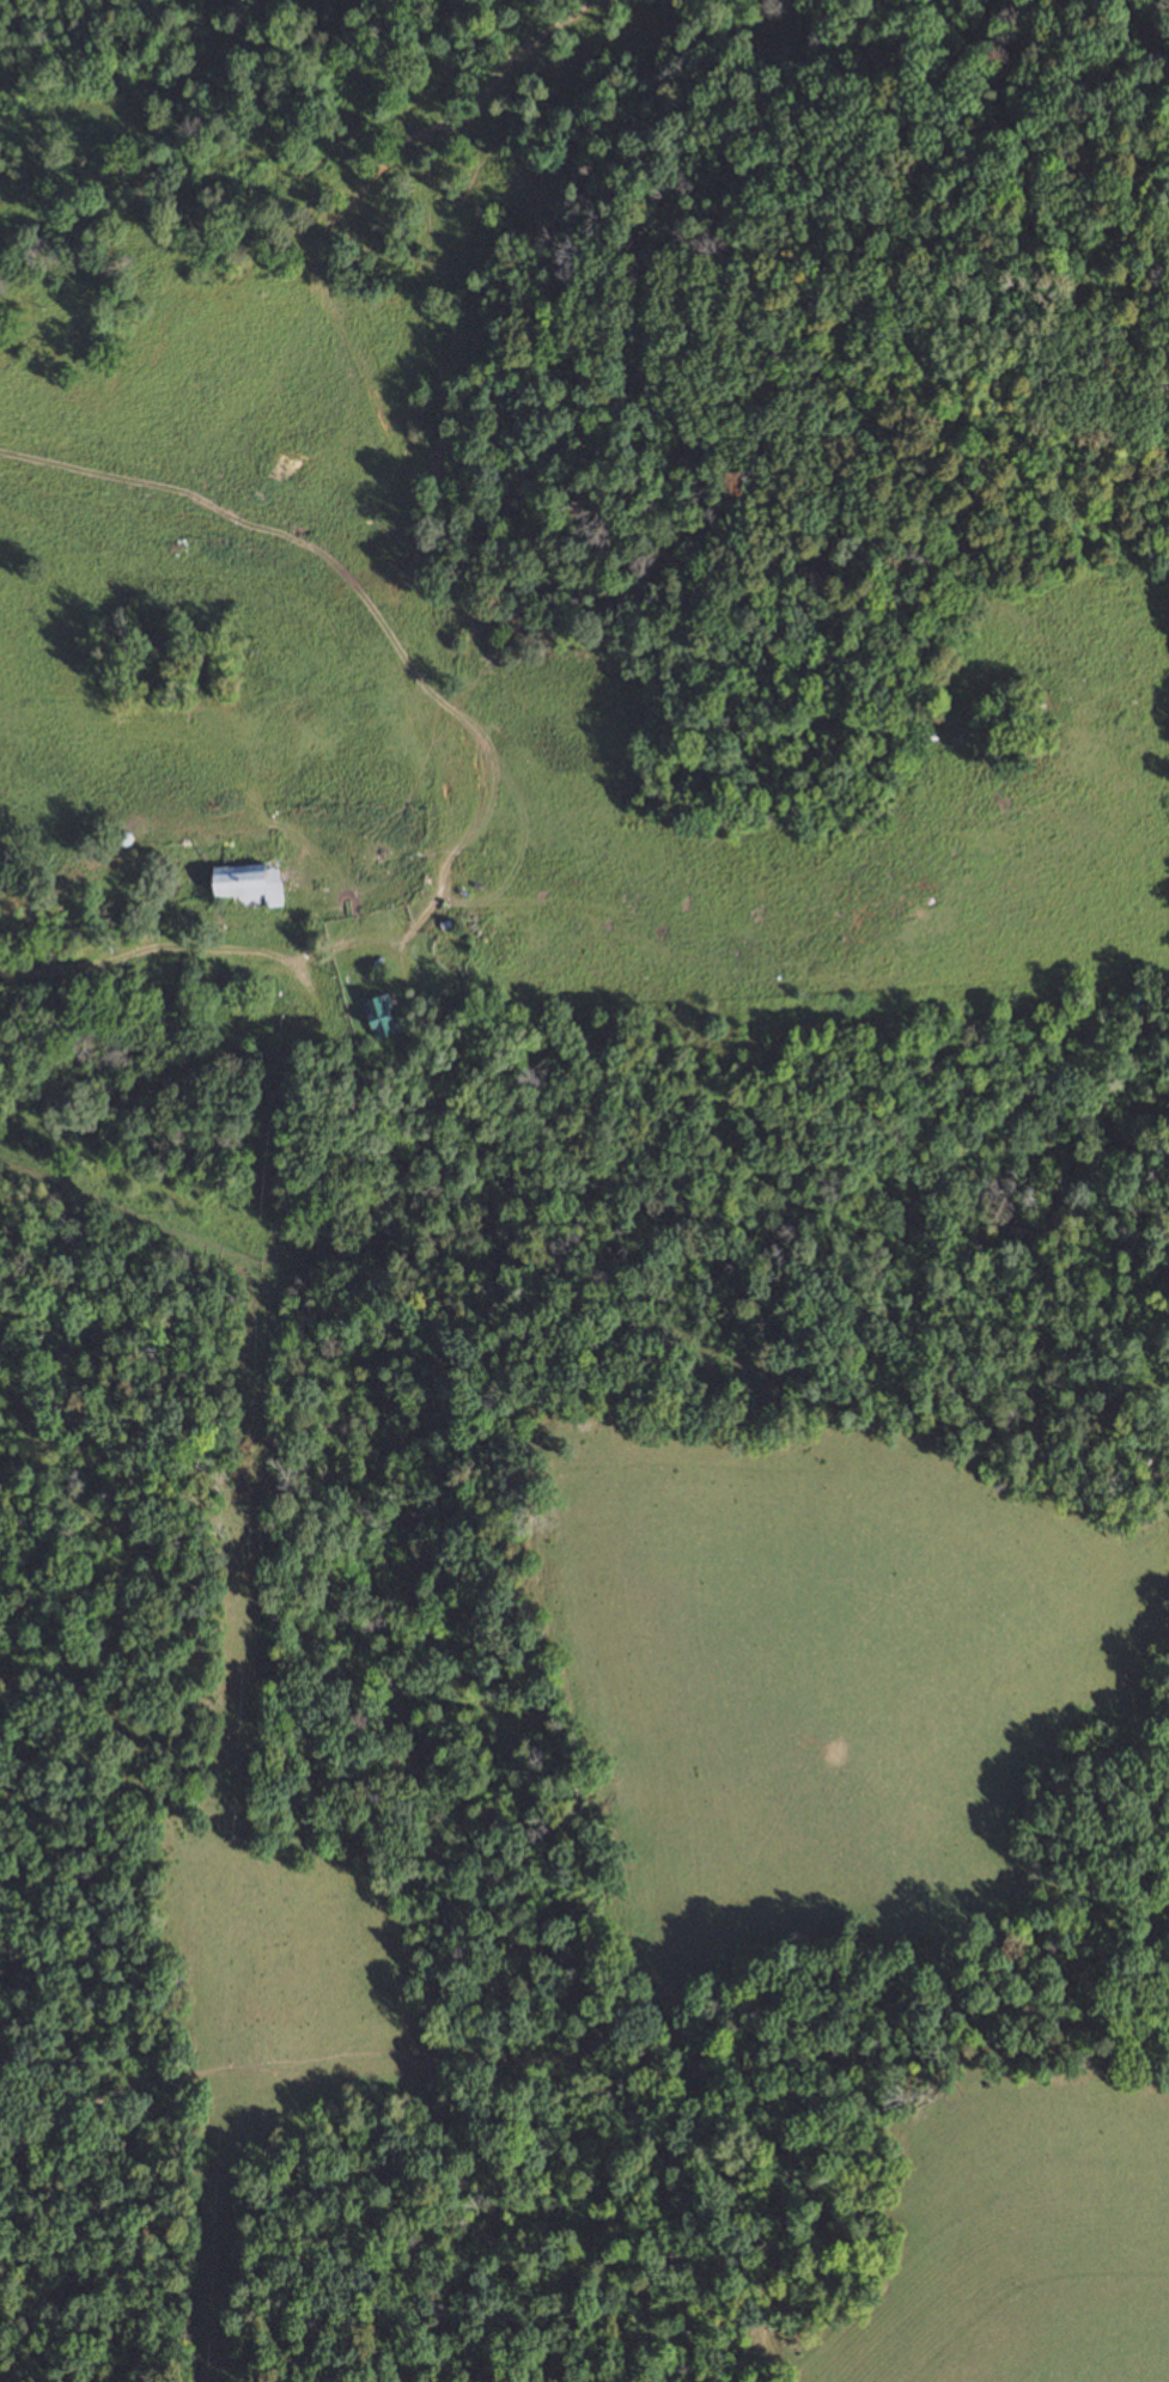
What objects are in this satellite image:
building: (248, 885)
road: (45, 975)
building: (378, 1018)

